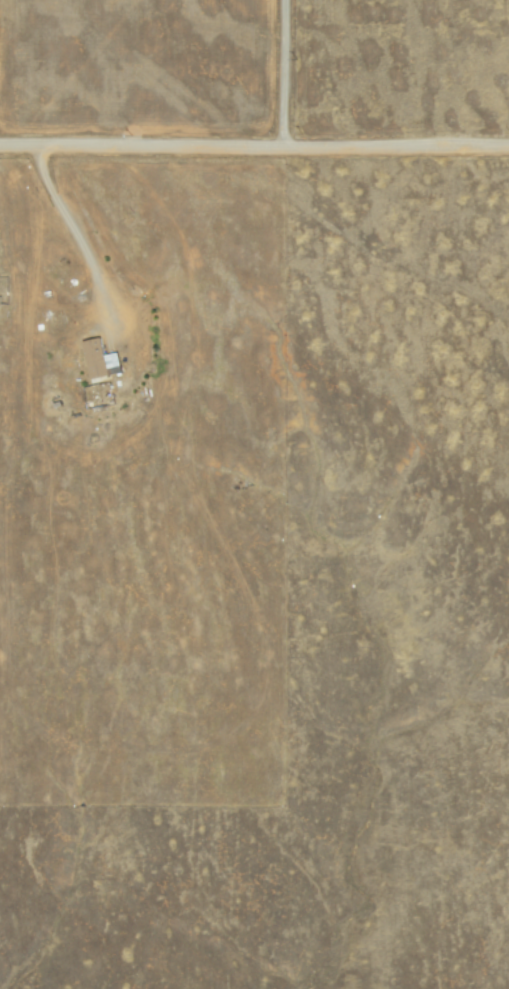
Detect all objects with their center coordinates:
road: (280, 73)
road: (254, 145)
building: (100, 359)

